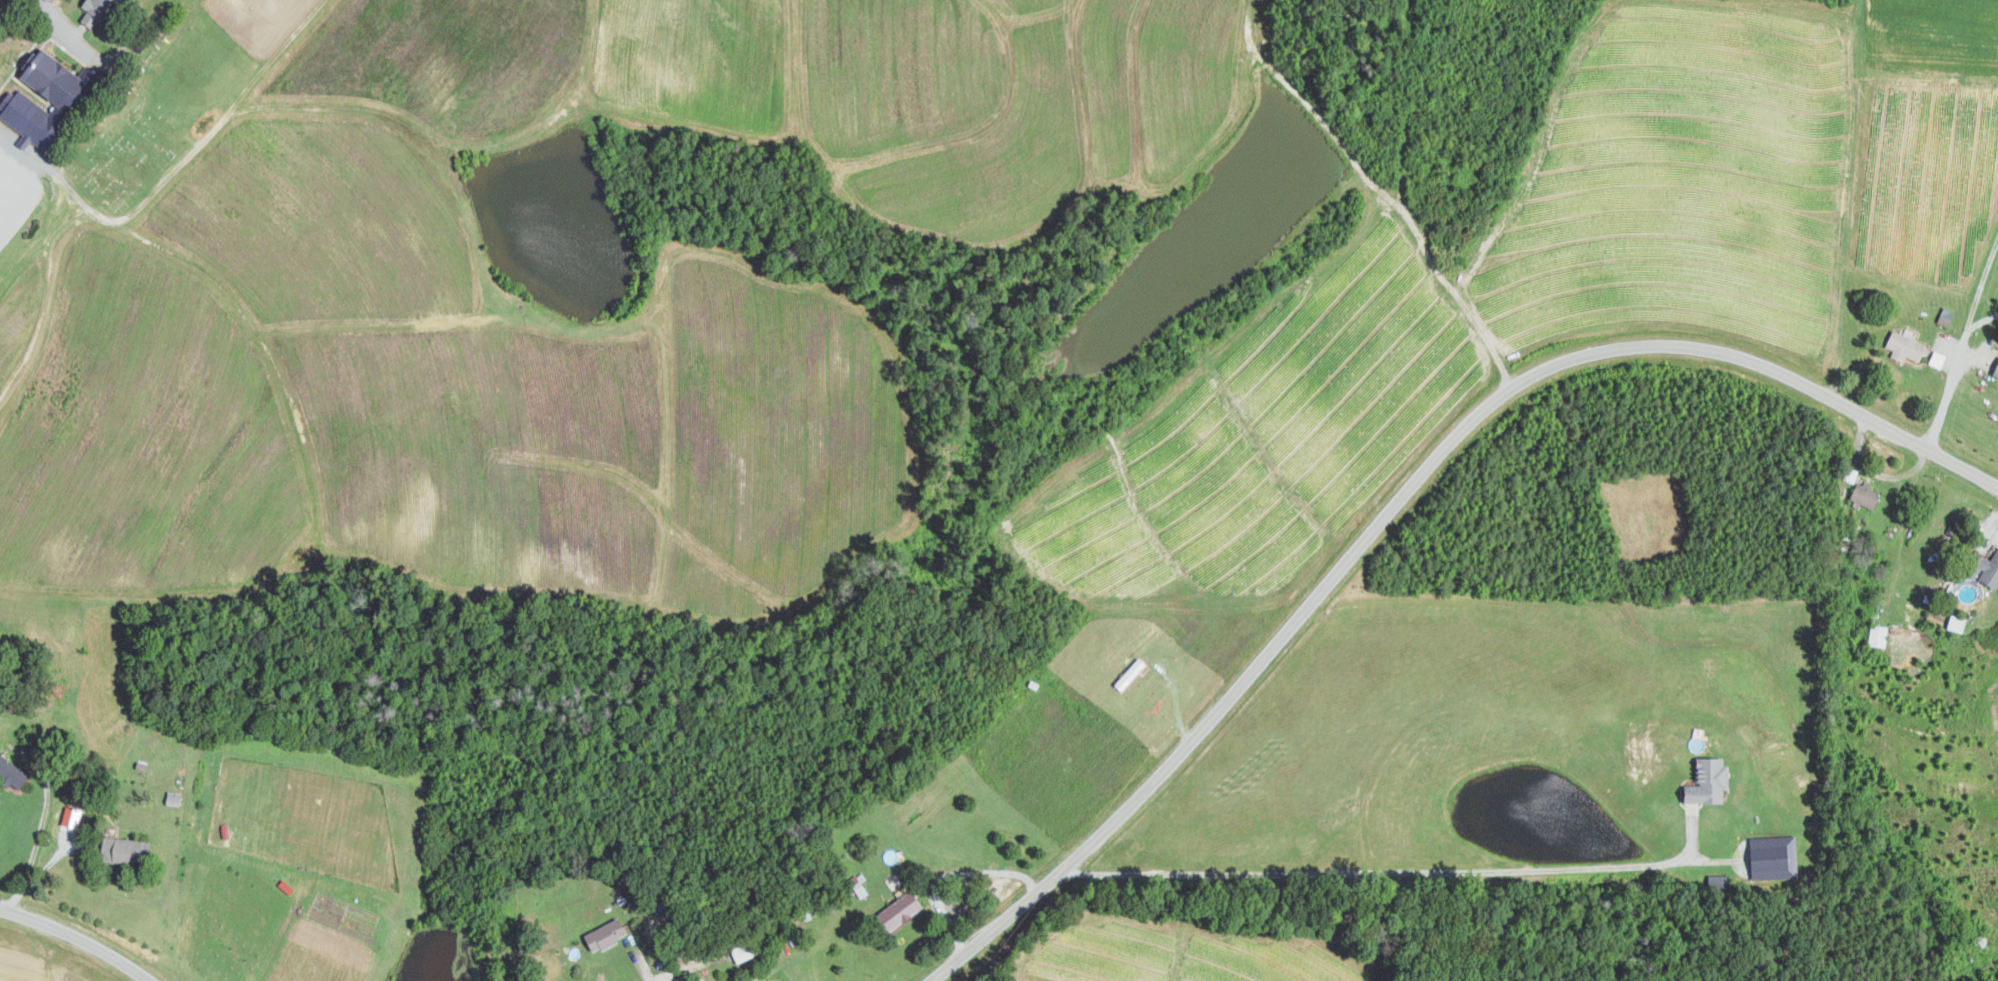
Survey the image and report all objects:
building: (100, 11)
road: (70, 29)
building: (67, 95)
road: (1981, 321)
road: (1962, 345)
building: (1907, 346)
building: (1939, 359)
building: (1996, 371)
road: (1404, 495)
building: (1868, 495)
building: (1990, 569)
building: (1959, 622)
building: (1880, 635)
building: (13, 771)
building: (1712, 781)
building: (175, 797)
road: (36, 833)
building: (128, 849)
building: (1776, 857)
road: (1387, 871)
road: (951, 874)
building: (902, 909)
building: (608, 934)
road: (79, 937)
road: (651, 970)

